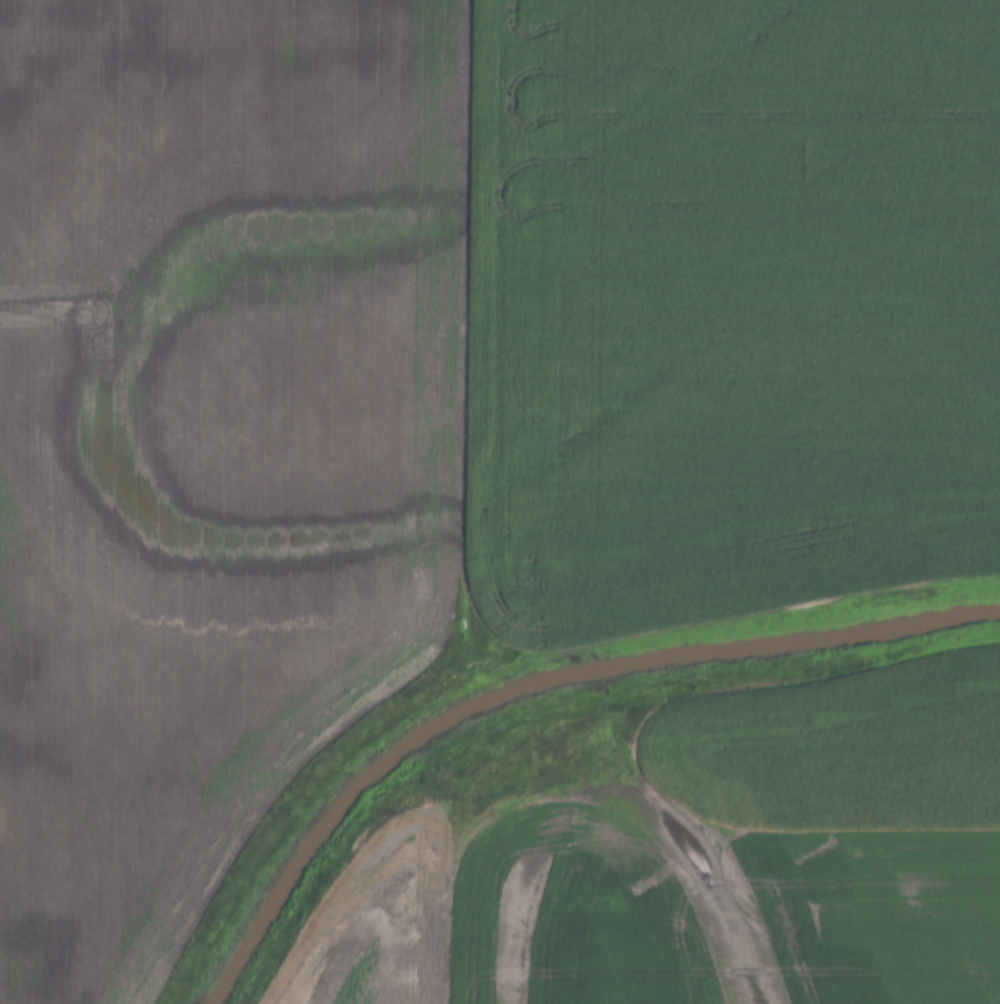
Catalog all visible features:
crop: (444, 378)
crop: (705, 868)

